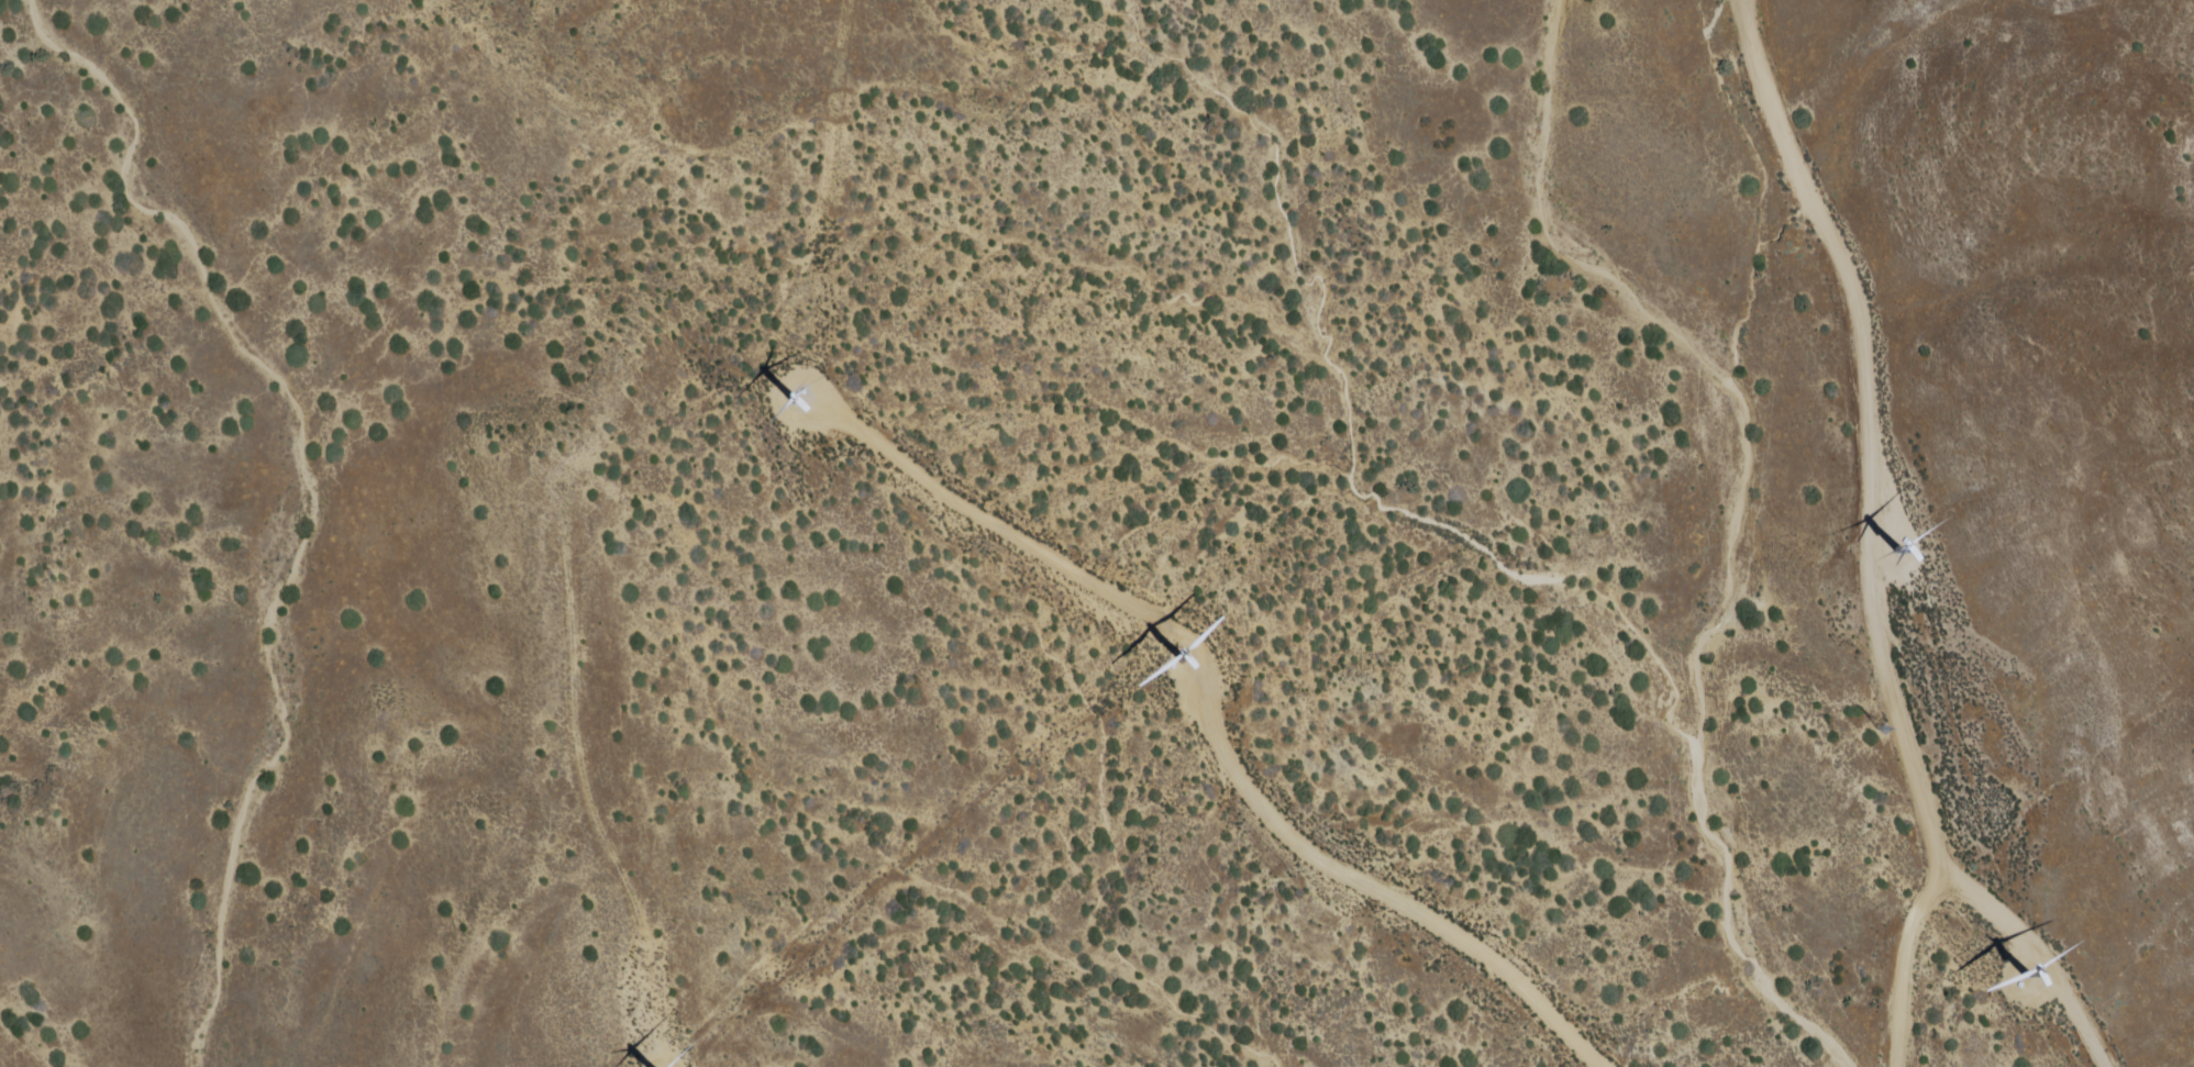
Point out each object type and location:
road: (1728, 3)
wind turbine: (795, 401)
road: (1868, 434)
wind turbine: (1903, 549)
wind turbine: (1184, 657)
road: (1216, 741)
road: (1968, 894)
wind turbine: (2024, 974)

